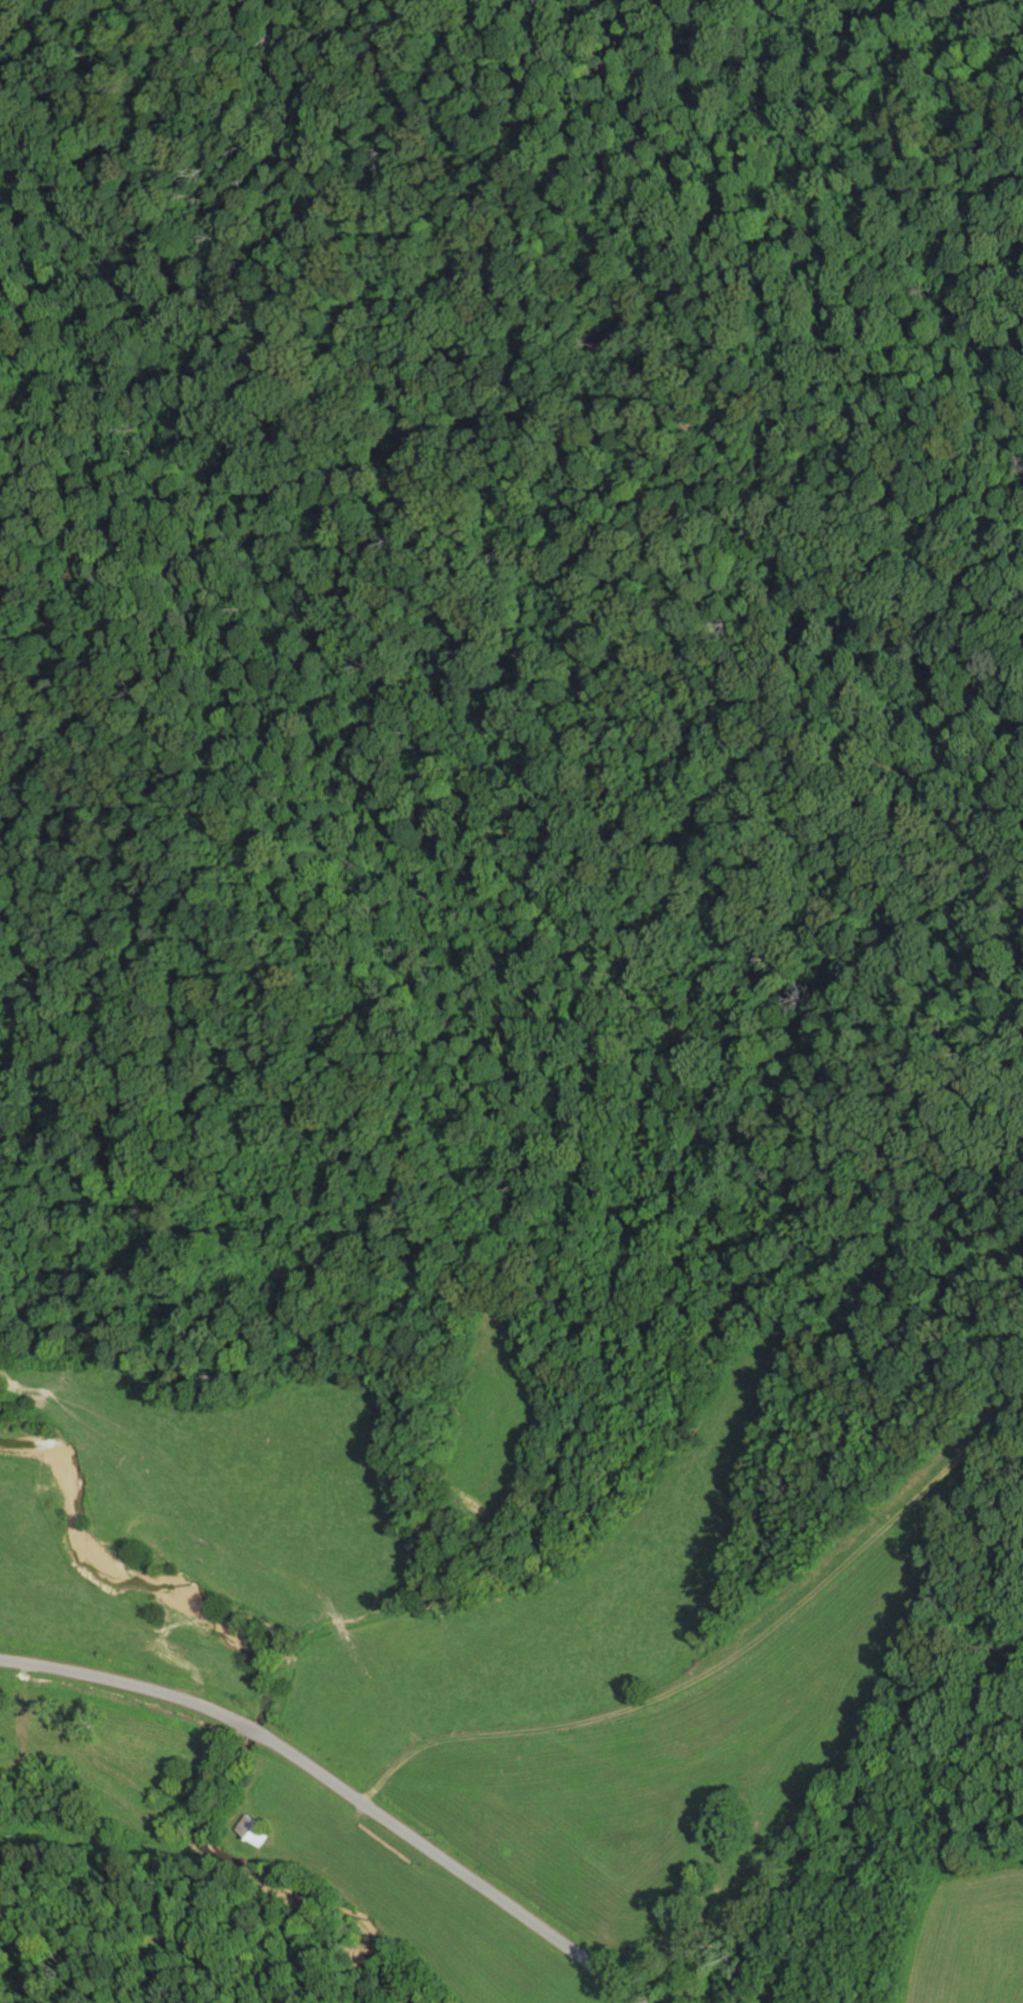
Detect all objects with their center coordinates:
road: (336, 1785)
building: (253, 1831)

